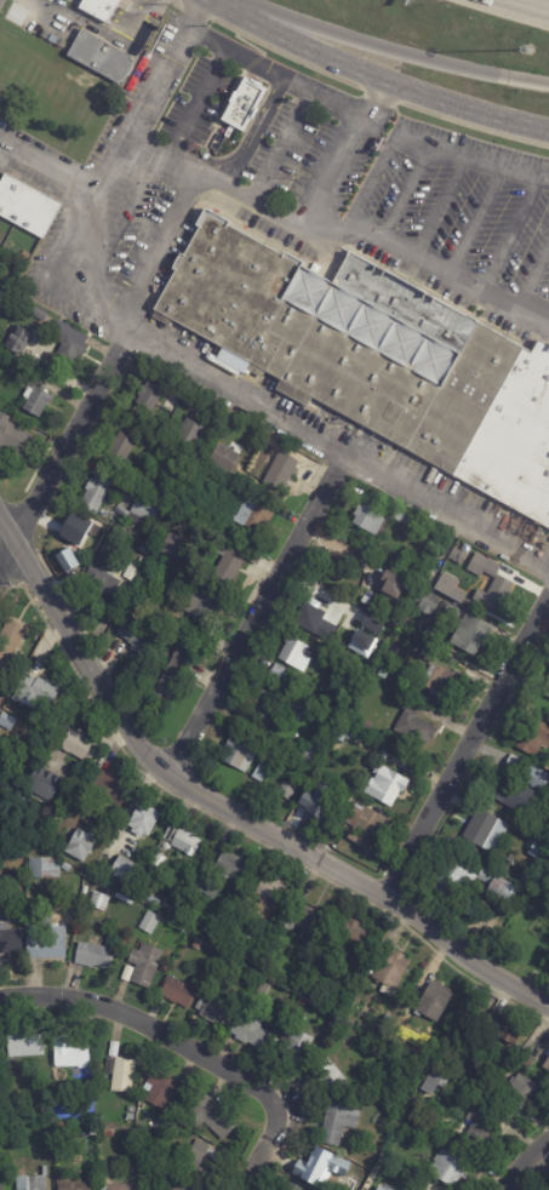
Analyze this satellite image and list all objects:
road: (213, 2)
road: (538, 2)
road: (172, 4)
building: (99, 7)
road: (194, 13)
road: (102, 34)
road: (382, 47)
building: (99, 56)
road: (284, 56)
road: (274, 73)
road: (378, 78)
road: (381, 96)
building: (248, 99)
parking lot: (189, 101)
road: (195, 102)
road: (473, 127)
road: (122, 142)
road: (1, 145)
road: (281, 145)
parking lot: (290, 149)
road: (341, 151)
road: (471, 158)
road: (371, 181)
road: (405, 194)
parking lot: (459, 201)
building: (25, 206)
road: (439, 207)
road: (475, 222)
road: (121, 227)
parking lot: (139, 230)
road: (337, 231)
road: (510, 236)
road: (158, 246)
road: (532, 278)
building: (38, 313)
building: (18, 341)
building: (68, 342)
building: (376, 357)
building: (18, 371)
building: (148, 396)
road: (248, 396)
building: (36, 400)
building: (188, 433)
building: (15, 439)
building: (122, 446)
building: (156, 447)
road: (64, 448)
building: (222, 458)
building: (281, 471)
building: (206, 477)
building: (93, 494)
building: (142, 508)
building: (252, 516)
building: (401, 517)
building: (371, 520)
building: (78, 537)
building: (175, 547)
building: (105, 549)
building: (142, 549)
building: (459, 556)
building: (230, 557)
building: (142, 561)
building: (481, 565)
building: (337, 566)
building: (131, 573)
building: (103, 578)
building: (187, 579)
building: (390, 585)
building: (448, 587)
building: (494, 593)
road: (547, 599)
building: (199, 601)
building: (427, 602)
road: (258, 612)
building: (349, 612)
building: (452, 612)
building: (313, 613)
building: (470, 634)
building: (137, 637)
building: (8, 648)
building: (405, 650)
building: (294, 654)
building: (428, 656)
building: (342, 670)
building: (176, 673)
building: (280, 675)
building: (548, 676)
building: (444, 682)
building: (34, 692)
building: (544, 696)
building: (263, 704)
building: (12, 709)
building: (296, 710)
building: (353, 719)
building: (6, 722)
building: (414, 727)
building: (365, 728)
building: (532, 736)
building: (78, 746)
road: (464, 750)
building: (238, 755)
building: (309, 755)
building: (325, 766)
building: (0, 771)
building: (262, 771)
building: (526, 772)
building: (42, 785)
building: (389, 785)
building: (107, 788)
building: (330, 789)
building: (286, 791)
building: (509, 794)
building: (23, 801)
road: (227, 807)
building: (58, 811)
building: (142, 819)
building: (366, 826)
building: (0, 829)
building: (168, 831)
building: (486, 831)
building: (184, 842)
building: (79, 843)
building: (7, 853)
building: (70, 856)
building: (533, 858)
building: (158, 863)
building: (63, 866)
building: (227, 868)
building: (267, 868)
building: (501, 868)
building: (42, 869)
building: (124, 870)
building: (452, 881)
building: (265, 888)
building: (142, 891)
building: (494, 891)
building: (98, 902)
building: (160, 906)
building: (468, 911)
building: (149, 922)
building: (305, 922)
building: (166, 926)
building: (240, 928)
building: (269, 928)
building: (178, 932)
building: (211, 936)
building: (349, 938)
building: (11, 942)
building: (46, 942)
building: (93, 956)
building: (350, 965)
building: (144, 966)
building: (390, 973)
building: (126, 974)
building: (294, 979)
building: (263, 989)
building: (177, 992)
building: (486, 999)
building: (301, 1001)
building: (433, 1002)
building: (158, 1003)
building: (213, 1012)
building: (385, 1025)
road: (147, 1026)
building: (251, 1030)
building: (499, 1031)
building: (402, 1039)
building: (293, 1043)
building: (24, 1047)
building: (113, 1049)
building: (70, 1054)
building: (547, 1066)
building: (120, 1075)
building: (328, 1077)
building: (433, 1085)
building: (56, 1086)
building: (1, 1089)
building: (459, 1089)
building: (522, 1091)
building: (165, 1092)
building: (15, 1109)
building: (210, 1119)
building: (98, 1120)
building: (338, 1123)
building: (481, 1125)
building: (108, 1133)
building: (428, 1133)
building: (104, 1144)
road: (261, 1145)
building: (59, 1154)
building: (200, 1160)
road: (522, 1162)
building: (385, 1163)
building: (475, 1163)
building: (324, 1171)
building: (447, 1171)
building: (42, 1172)
building: (30, 1183)
building: (72, 1184)
building: (188, 1186)
building: (290, 1186)
building: (1, 1188)
building: (119, 1188)
building: (358, 1188)

